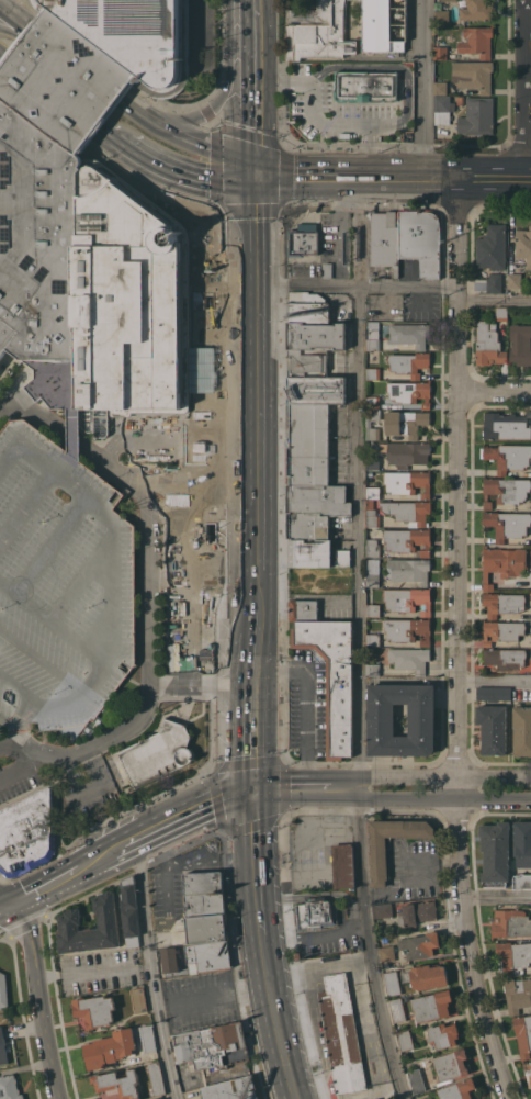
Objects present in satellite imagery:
building: (448, 0)
building: (438, 4)
road: (1, 5)
road: (1, 9)
building: (477, 10)
building: (441, 16)
road: (16, 18)
road: (249, 25)
building: (383, 25)
power substation: (379, 26)
power substation: (318, 31)
building: (317, 32)
road: (199, 33)
building: (136, 36)
building: (477, 41)
road: (4, 53)
building: (441, 53)
road: (385, 66)
building: (473, 75)
building: (63, 79)
building: (365, 85)
building: (441, 87)
road: (423, 90)
road: (523, 90)
building: (461, 100)
road: (218, 104)
building: (442, 109)
road: (250, 115)
building: (477, 115)
road: (320, 119)
road: (384, 124)
road: (185, 138)
road: (170, 172)
road: (348, 179)
traffic signals: (252, 180)
road: (450, 180)
road: (527, 180)
road: (481, 181)
road: (513, 181)
building: (37, 238)
building: (385, 238)
building: (304, 239)
building: (421, 239)
building: (523, 245)
building: (492, 247)
building: (328, 270)
building: (515, 280)
building: (494, 282)
road: (355, 284)
road: (494, 302)
building: (124, 305)
building: (308, 306)
building: (409, 334)
building: (373, 335)
building: (317, 336)
building: (490, 339)
building: (520, 343)
building: (308, 362)
building: (409, 362)
road: (253, 367)
building: (373, 373)
building: (317, 390)
road: (494, 391)
building: (410, 392)
building: (373, 402)
road: (50, 422)
building: (405, 422)
building: (369, 423)
building: (506, 425)
building: (74, 434)
building: (308, 444)
building: (406, 452)
building: (508, 456)
building: (373, 462)
building: (407, 482)
building: (506, 490)
building: (373, 492)
building: (315, 509)
building: (408, 512)
building: (372, 515)
building: (507, 524)
building: (408, 540)
building: (373, 547)
building: (310, 552)
building: (342, 557)
building: (505, 563)
building: (408, 569)
road: (116, 571)
building: (373, 571)
road: (256, 577)
building: (60, 583)
building: (408, 599)
building: (502, 603)
building: (303, 609)
building: (373, 609)
road: (147, 616)
road: (54, 621)
road: (255, 628)
building: (408, 630)
building: (502, 630)
building: (373, 640)
road: (360, 641)
road: (457, 643)
building: (505, 657)
building: (409, 658)
building: (372, 662)
road: (253, 668)
building: (332, 677)
road: (494, 682)
road: (201, 683)
road: (307, 692)
building: (494, 693)
building: (381, 719)
road: (15, 724)
building: (493, 728)
building: (521, 729)
road: (251, 734)
building: (158, 752)
road: (290, 775)
road: (432, 775)
road: (307, 787)
traffic signals: (250, 788)
road: (389, 803)
road: (193, 815)
building: (25, 833)
building: (522, 842)
road: (253, 843)
road: (125, 846)
building: (495, 853)
building: (379, 857)
road: (97, 861)
road: (433, 863)
building: (342, 864)
building: (521, 879)
road: (48, 884)
building: (204, 891)
road: (339, 893)
building: (127, 894)
road: (278, 896)
road: (499, 896)
road: (8, 904)
building: (382, 910)
building: (316, 912)
building: (417, 912)
road: (258, 917)
building: (69, 919)
road: (229, 921)
building: (510, 922)
building: (131, 927)
building: (206, 929)
road: (328, 932)
road: (274, 935)
building: (178, 938)
building: (420, 944)
building: (386, 953)
building: (210, 955)
building: (513, 955)
building: (170, 960)
road: (318, 967)
road: (152, 971)
building: (426, 976)
building: (392, 982)
building: (3, 989)
building: (517, 994)
road: (39, 998)
building: (139, 999)
building: (432, 1005)
building: (94, 1009)
building: (397, 1009)
road: (273, 1018)
building: (337, 1032)
building: (443, 1034)
building: (523, 1034)
road: (368, 1036)
building: (147, 1038)
building: (405, 1039)
building: (212, 1045)
building: (2, 1047)
building: (110, 1047)
building: (452, 1064)
building: (528, 1070)
building: (156, 1078)
building: (416, 1079)
building: (117, 1084)
building: (9, 1087)
building: (235, 1089)
building: (457, 1089)
building: (161, 1098)
building: (396, 1098)

